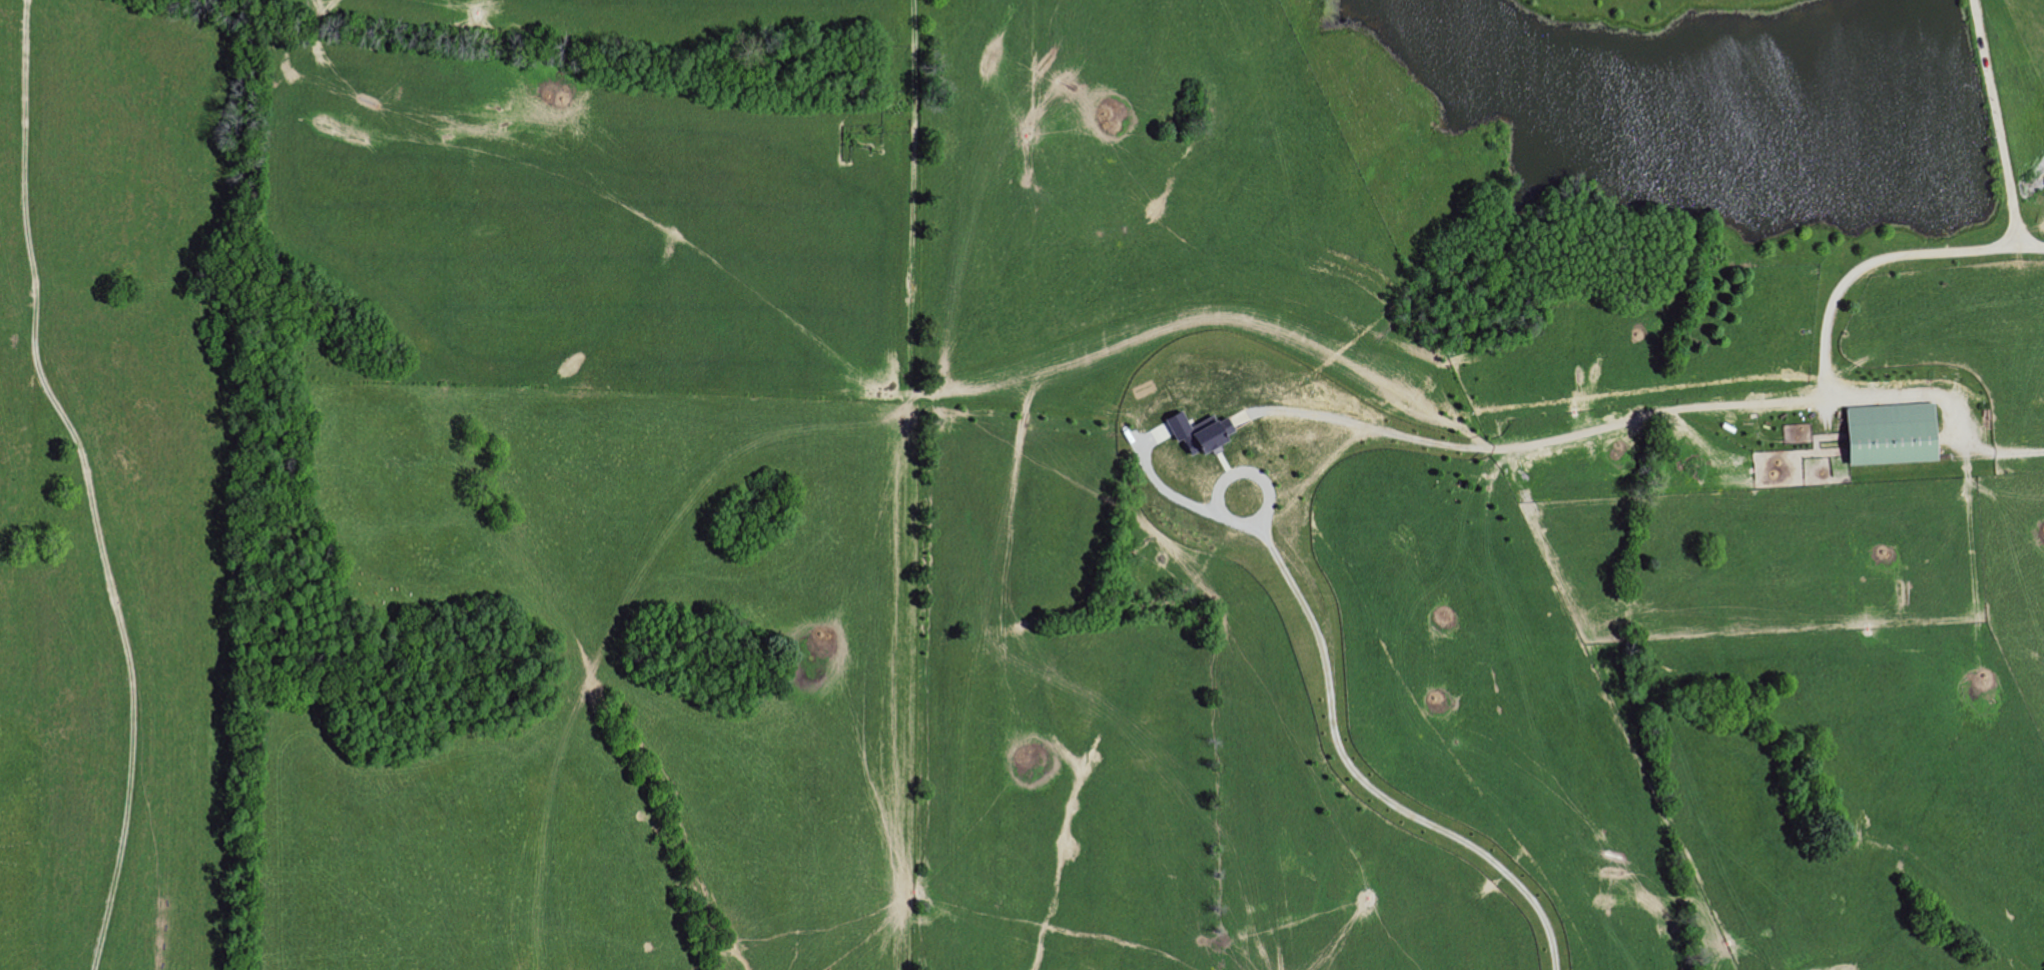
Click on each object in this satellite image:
road: (107, 483)
road: (1344, 760)

